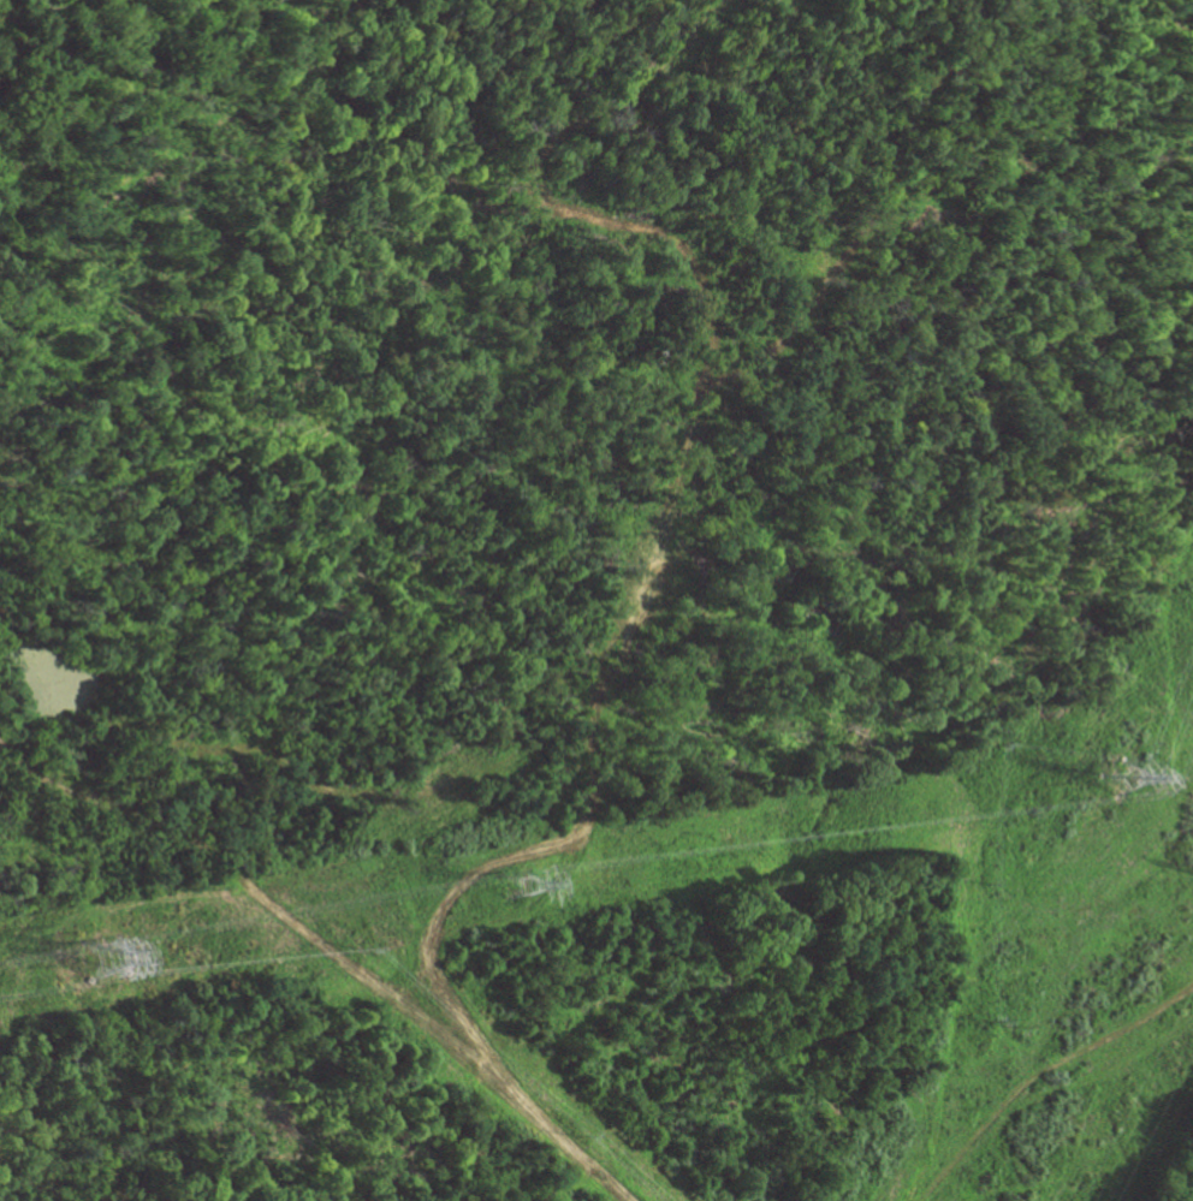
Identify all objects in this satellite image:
power tower: (1118, 775)
power tower: (515, 887)
power tower: (105, 961)

